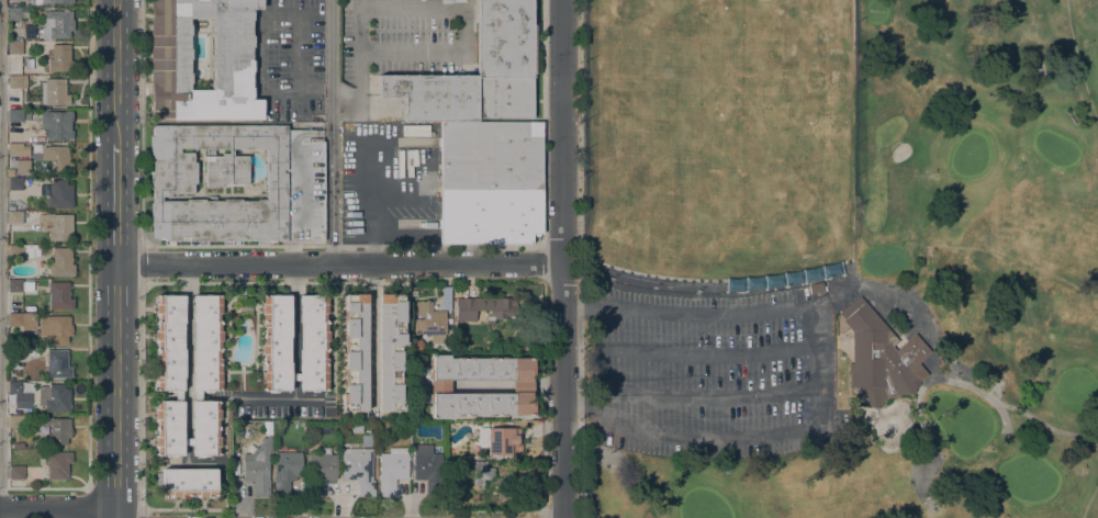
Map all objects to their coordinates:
building: (55, 1)
road: (428, 7)
park: (874, 12)
building: (19, 14)
building: (57, 25)
building: (30, 32)
building: (506, 38)
building: (18, 41)
building: (14, 48)
road: (258, 54)
building: (59, 58)
building: (231, 60)
road: (116, 71)
building: (26, 74)
building: (20, 82)
building: (56, 92)
building: (460, 97)
building: (14, 116)
road: (141, 119)
building: (57, 125)
road: (332, 133)
building: (893, 137)
park: (720, 145)
building: (18, 150)
park: (1056, 150)
building: (490, 157)
park: (970, 157)
building: (56, 158)
building: (23, 167)
building: (15, 184)
building: (238, 184)
building: (59, 194)
road: (370, 203)
road: (117, 204)
building: (11, 207)
building: (26, 215)
building: (490, 216)
building: (14, 218)
building: (56, 226)
building: (23, 252)
park: (842, 258)
road: (561, 259)
road: (579, 259)
building: (61, 263)
road: (142, 266)
road: (339, 266)
building: (20, 286)
building: (816, 288)
road: (89, 289)
building: (59, 296)
road: (583, 304)
building: (244, 306)
building: (481, 308)
road: (706, 315)
building: (430, 318)
road: (293, 319)
building: (22, 323)
road: (117, 326)
building: (55, 328)
building: (414, 328)
road: (371, 336)
building: (170, 342)
building: (276, 342)
building: (208, 344)
building: (313, 344)
building: (417, 345)
road: (187, 350)
building: (27, 351)
building: (390, 351)
building: (356, 352)
building: (16, 354)
road: (708, 356)
building: (881, 358)
building: (58, 363)
road: (603, 368)
road: (816, 368)
parking lot: (702, 373)
building: (294, 376)
road: (294, 376)
building: (523, 386)
park: (1075, 387)
building: (20, 396)
building: (178, 396)
building: (198, 396)
building: (54, 397)
road: (271, 397)
road: (307, 397)
road: (142, 399)
road: (710, 399)
road: (582, 408)
road: (1021, 415)
building: (15, 421)
park: (962, 424)
building: (369, 425)
building: (169, 428)
building: (205, 428)
building: (357, 428)
building: (59, 432)
road: (713, 439)
building: (500, 440)
building: (188, 442)
building: (18, 446)
road: (116, 452)
building: (58, 464)
building: (258, 469)
building: (427, 469)
building: (358, 470)
building: (392, 470)
building: (285, 471)
building: (321, 471)
building: (482, 471)
building: (15, 472)
park: (1029, 480)
building: (189, 483)
road: (89, 503)
park: (704, 506)
road: (44, 513)
road: (141, 513)

